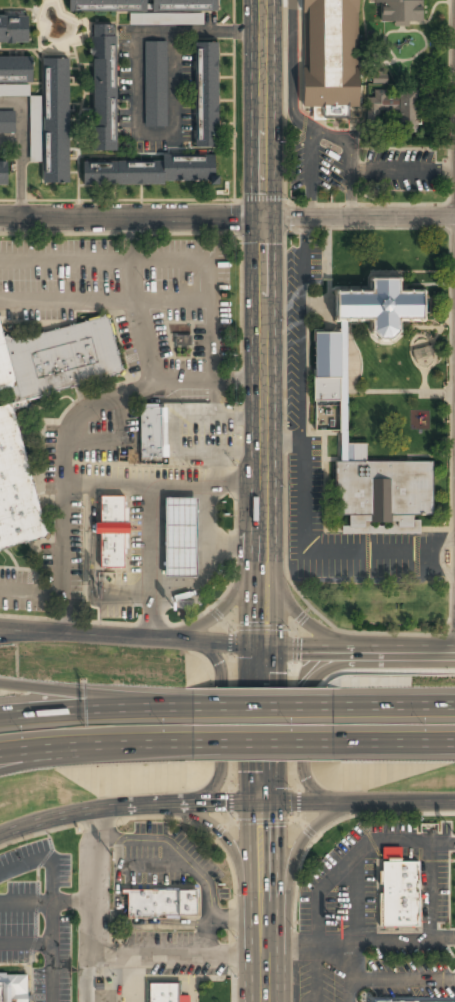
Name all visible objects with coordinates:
building: (109, 3)
building: (183, 5)
building: (401, 11)
building: (14, 30)
building: (332, 57)
building: (15, 69)
building: (155, 83)
building: (13, 92)
building: (207, 95)
building: (104, 96)
building: (395, 108)
building: (52, 122)
building: (7, 123)
building: (153, 170)
building: (4, 173)
road: (261, 207)
road: (227, 219)
traffic signals: (262, 219)
road: (166, 260)
road: (105, 299)
road: (133, 300)
building: (381, 307)
building: (182, 340)
building: (59, 358)
building: (327, 367)
building: (343, 390)
road: (70, 426)
building: (151, 434)
road: (117, 443)
road: (269, 443)
building: (17, 486)
road: (158, 486)
building: (381, 489)
building: (381, 528)
building: (112, 531)
building: (179, 535)
gas station: (179, 535)
road: (92, 537)
road: (229, 546)
road: (152, 562)
road: (196, 587)
road: (32, 591)
road: (218, 609)
road: (323, 633)
road: (17, 635)
road: (137, 638)
traffic signals: (251, 645)
traffic signals: (276, 646)
road: (365, 647)
road: (97, 693)
road: (230, 706)
road: (250, 707)
road: (394, 707)
road: (263, 710)
road: (96, 712)
road: (305, 717)
road: (220, 733)
road: (275, 736)
road: (394, 743)
road: (263, 744)
road: (96, 746)
road: (40, 758)
road: (352, 802)
traffic signals: (250, 803)
traffic signals: (275, 803)
road: (123, 809)
road: (64, 827)
road: (98, 828)
road: (218, 835)
road: (299, 844)
road: (334, 875)
road: (37, 894)
building: (397, 894)
road: (72, 902)
road: (50, 904)
building: (163, 904)
road: (94, 907)
parking lot: (36, 921)
road: (354, 927)
road: (25, 944)
building: (13, 988)
building: (163, 992)
building: (412, 1001)

